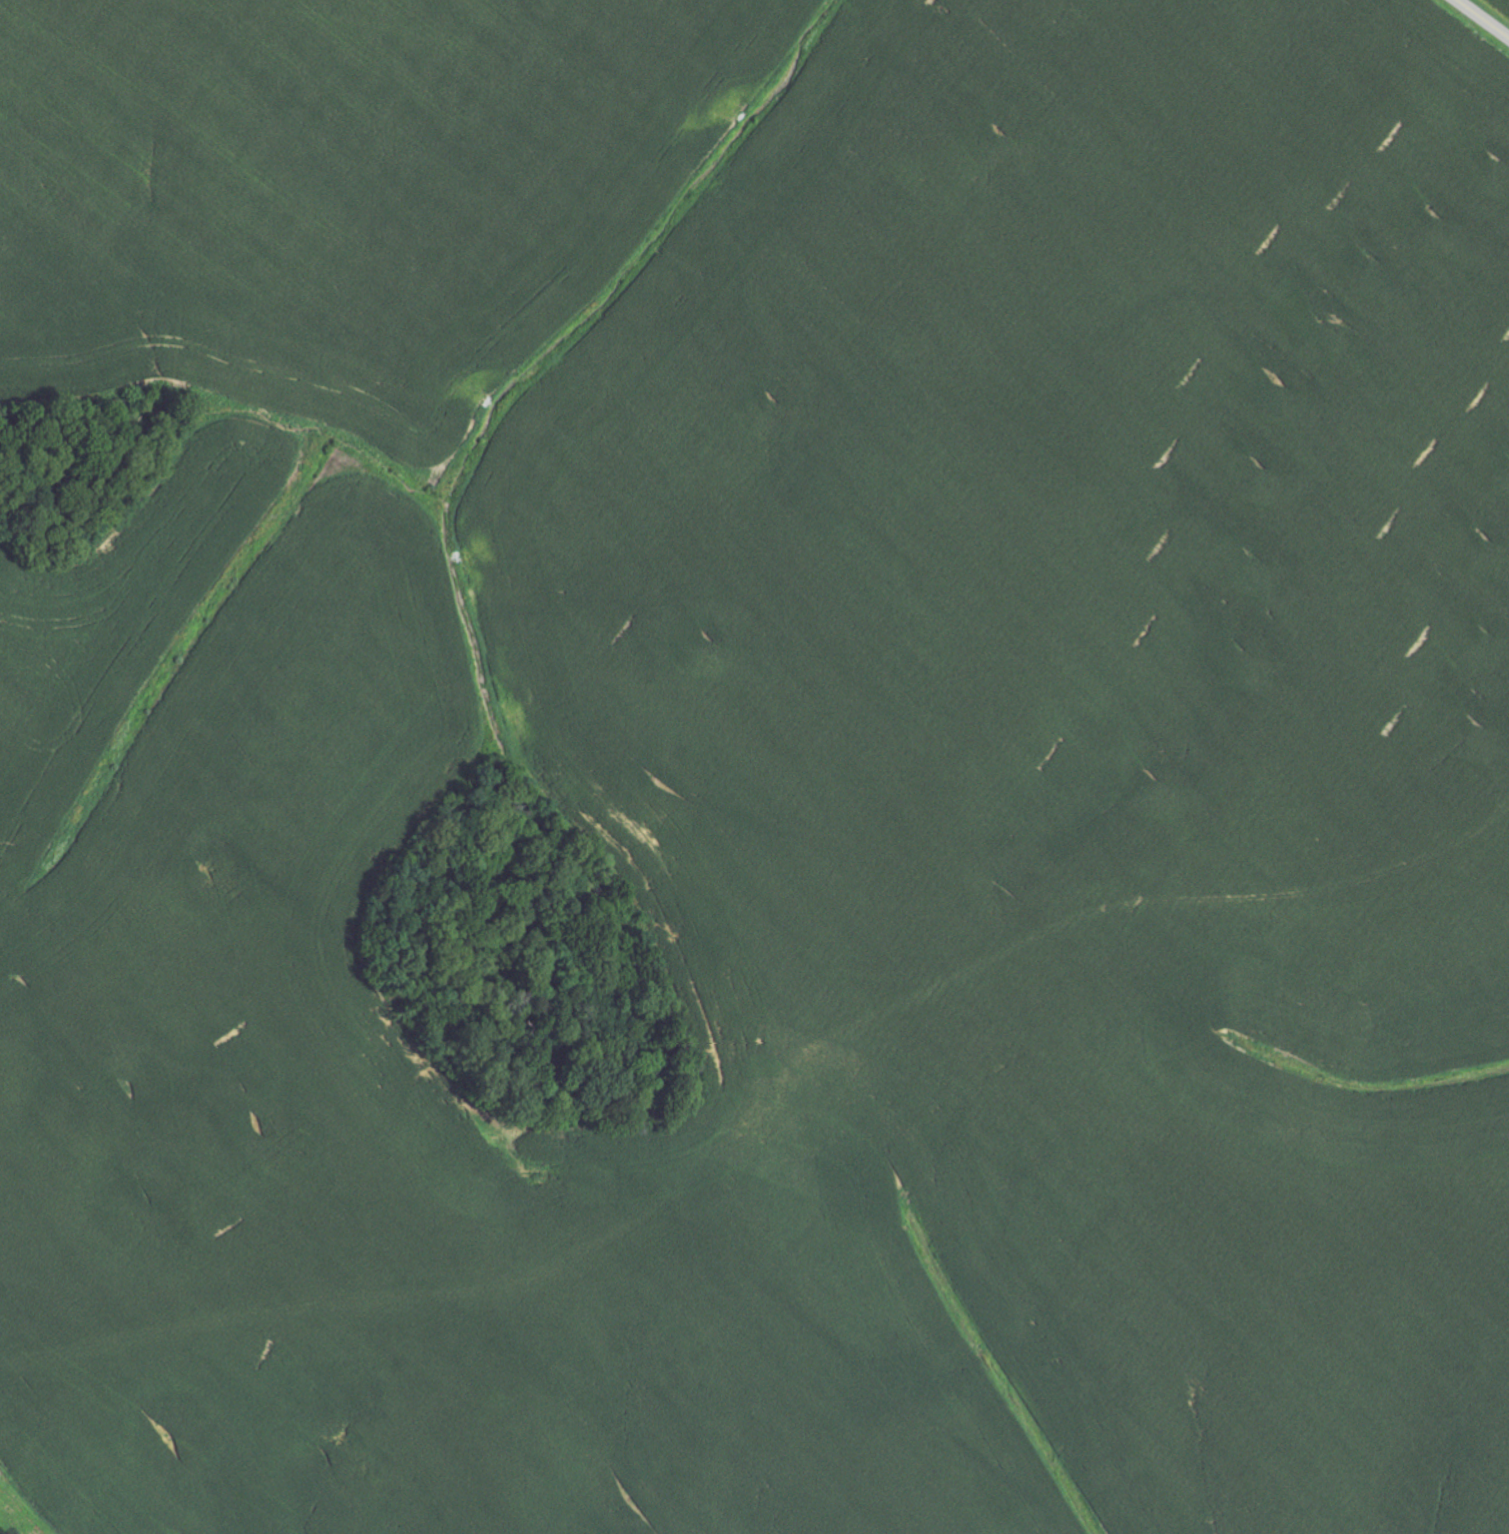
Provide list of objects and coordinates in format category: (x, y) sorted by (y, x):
road: (1482, 19)

